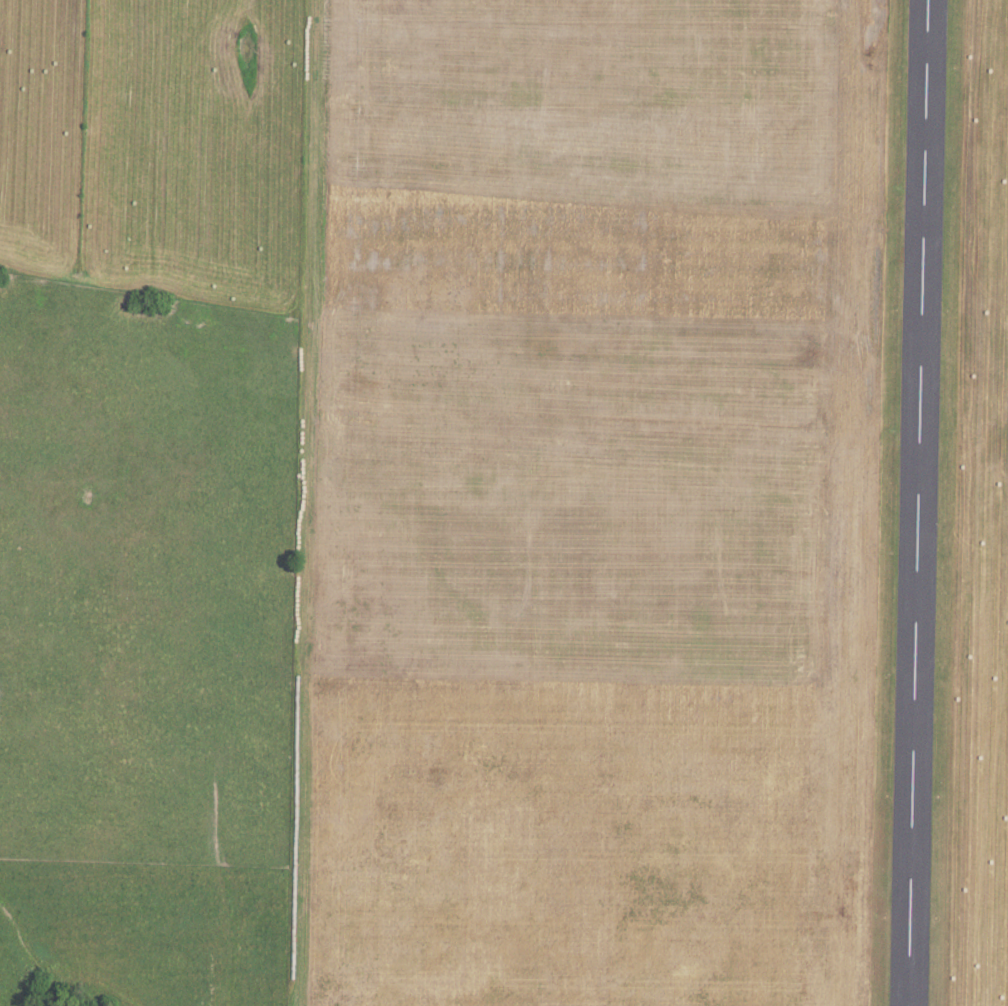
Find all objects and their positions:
airport runway: (920, 503)

